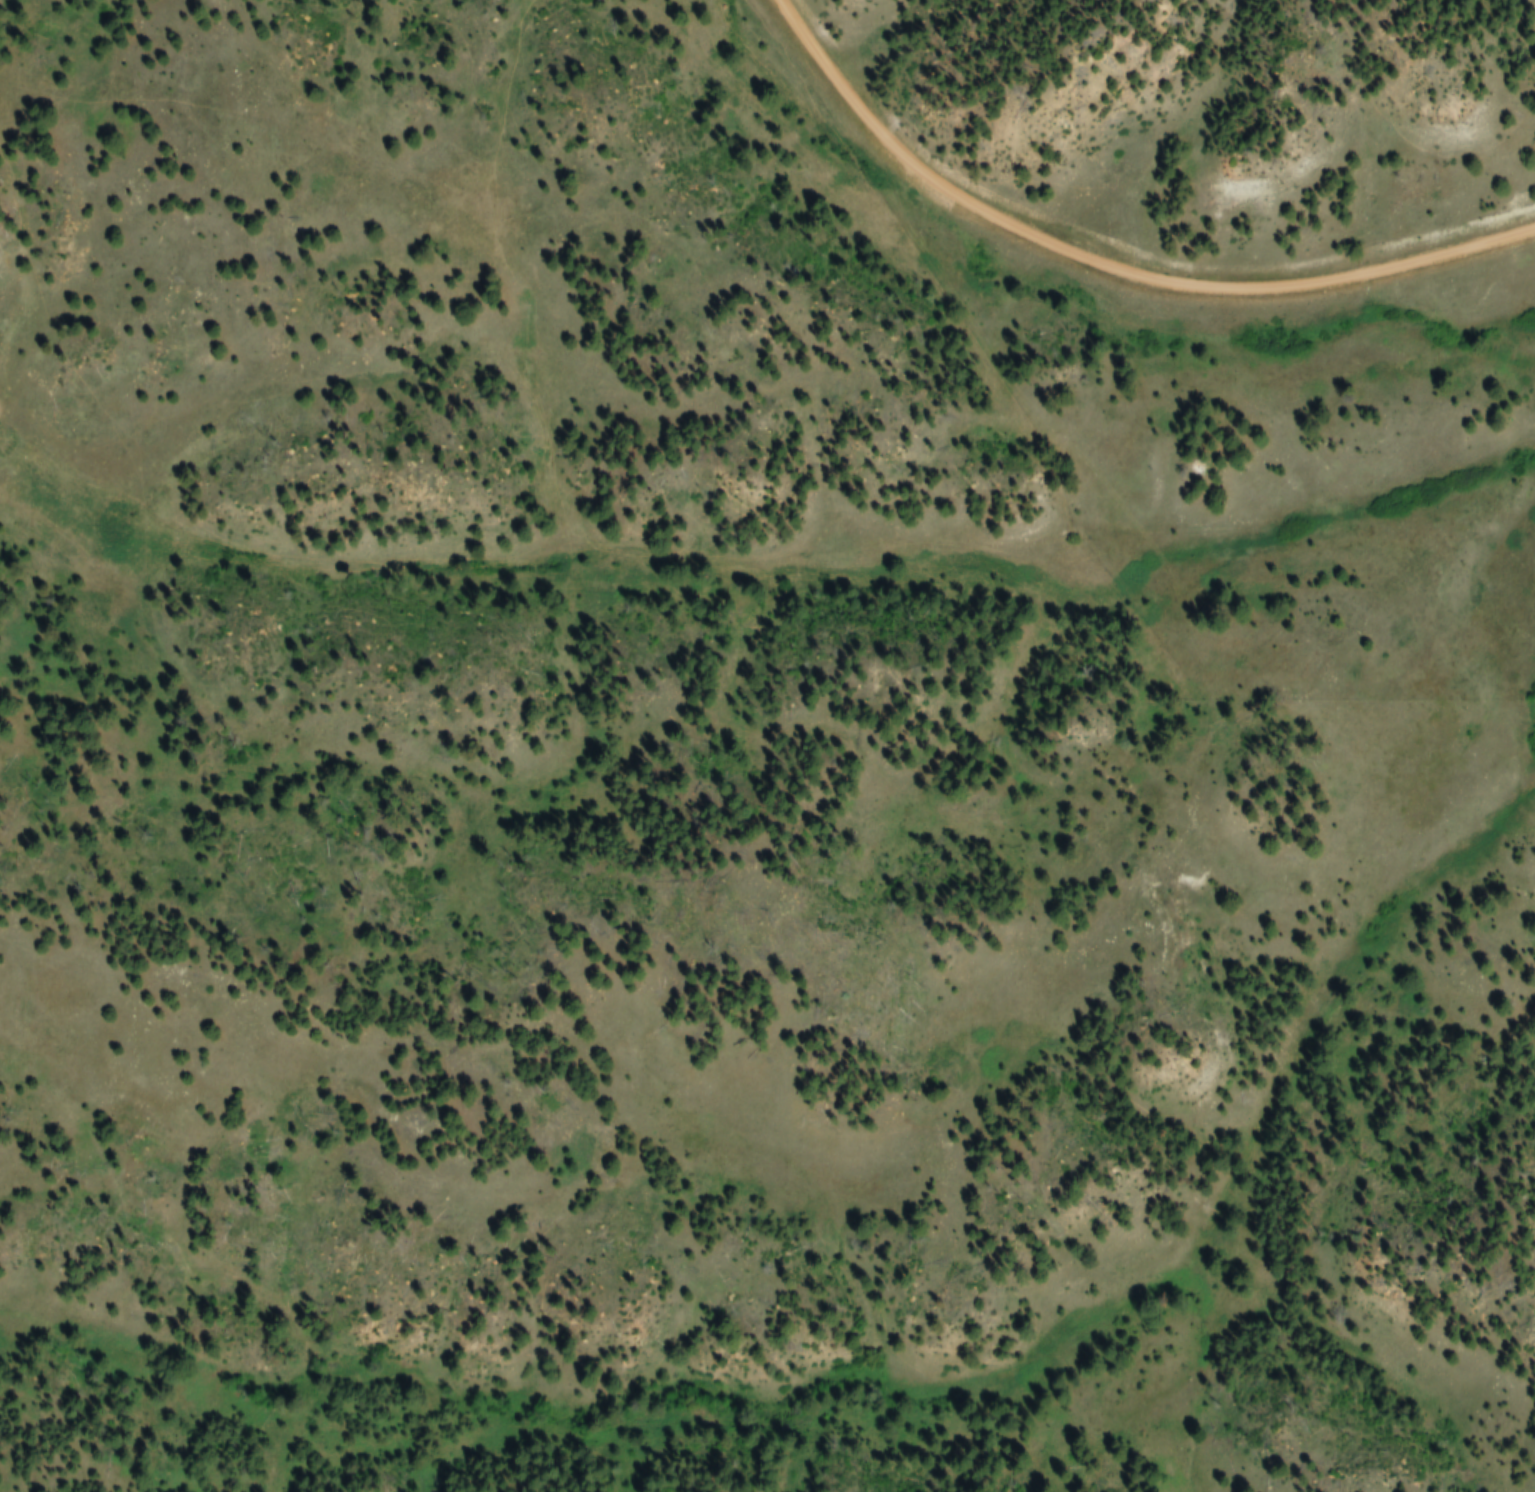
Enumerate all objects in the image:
road: (1113, 262)

